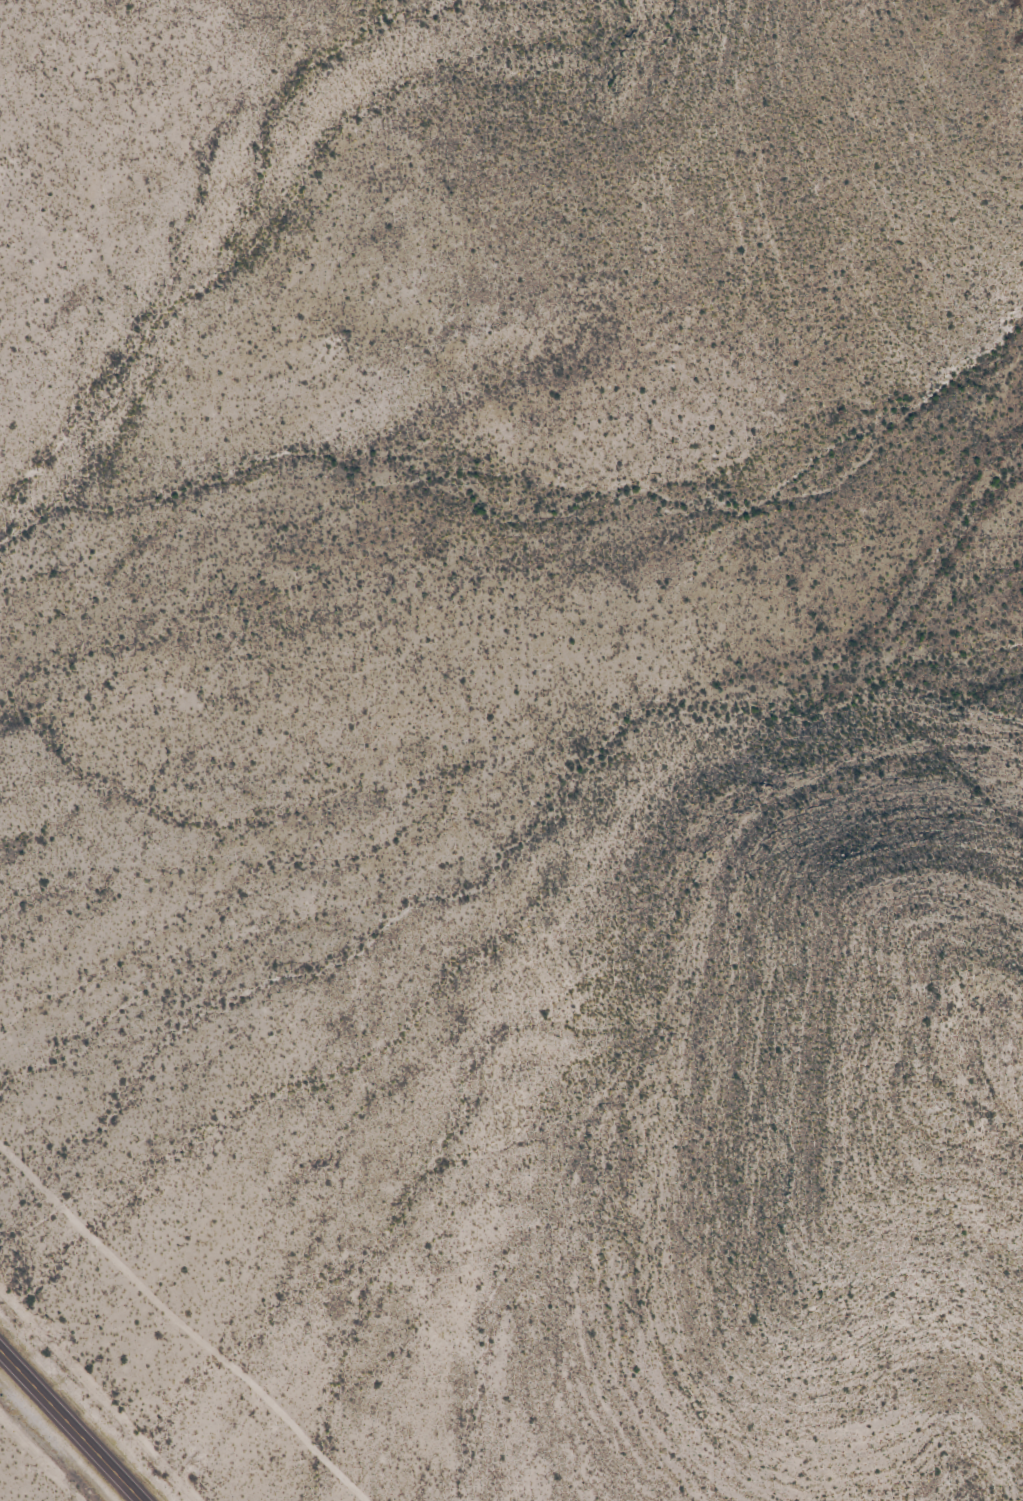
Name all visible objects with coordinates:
road: (76, 1419)

